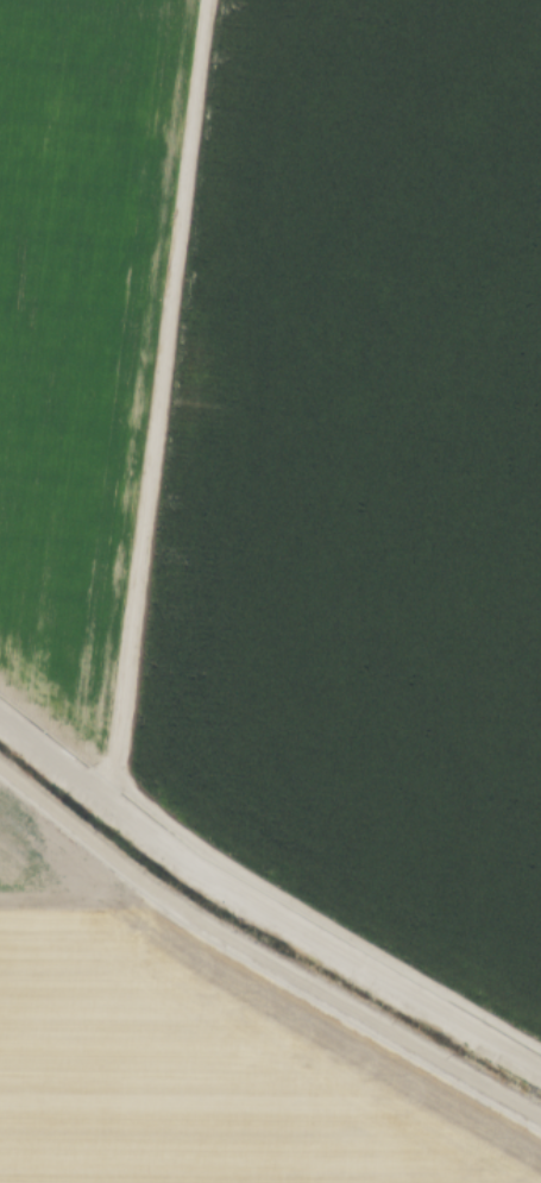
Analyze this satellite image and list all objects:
road: (120, 656)
road: (51, 759)
road: (260, 956)

